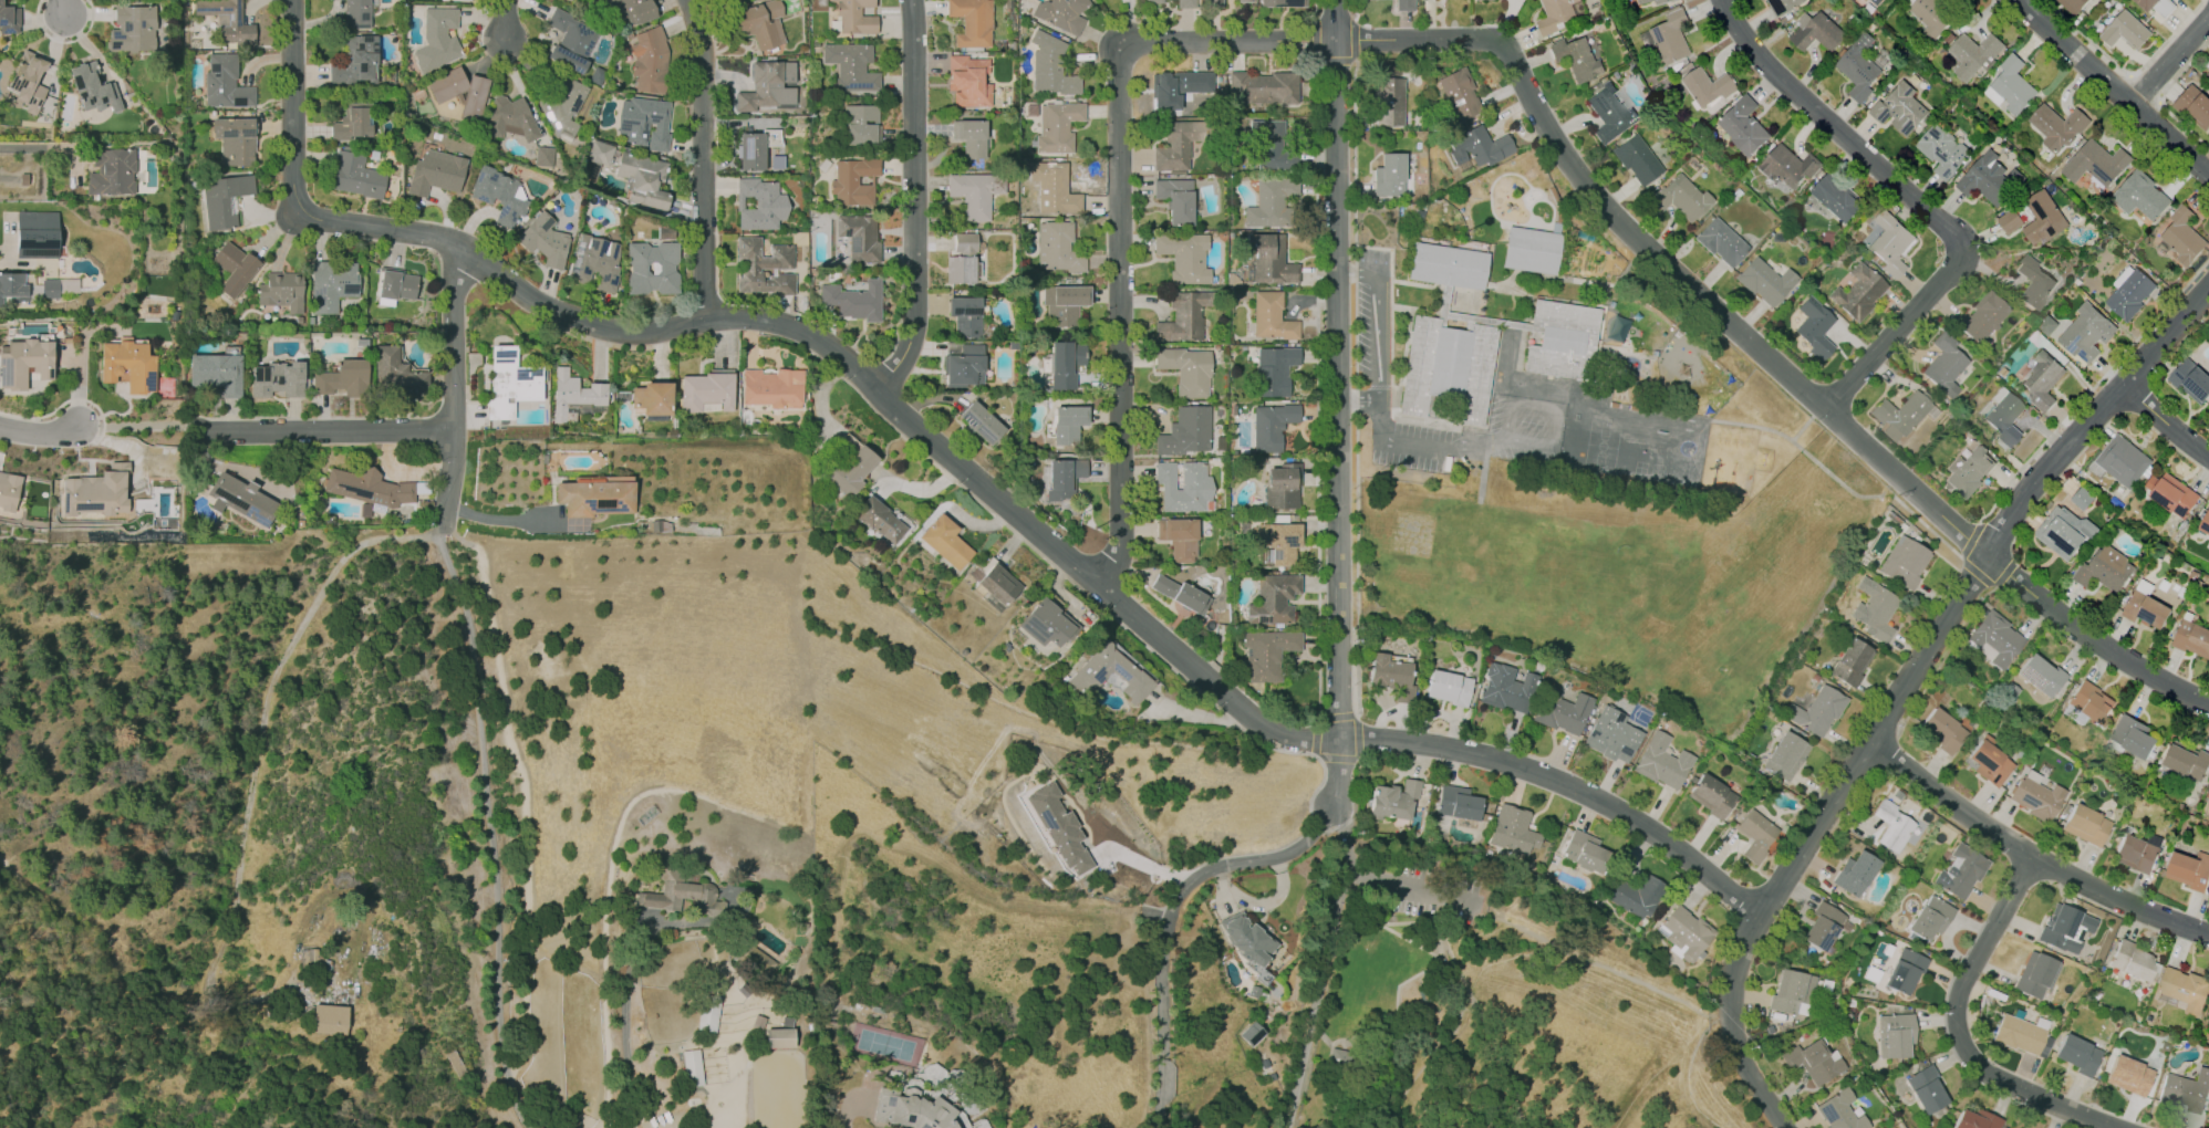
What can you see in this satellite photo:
building: (458, 0)
building: (724, 1)
building: (1154, 1)
building: (1244, 1)
building: (1657, 1)
building: (1282, 2)
building: (1888, 2)
building: (1185, 3)
building: (1212, 3)
building: (1403, 4)
building: (2074, 4)
building: (2147, 4)
building: (1785, 6)
road: (68, 8)
building: (2165, 8)
building: (637, 10)
building: (1061, 13)
building: (356, 14)
building: (1556, 15)
building: (854, 17)
building: (1932, 17)
building: (9, 19)
building: (234, 20)
road: (504, 20)
building: (971, 22)
building: (759, 23)
building: (133, 29)
building: (1817, 31)
building: (2126, 31)
building: (437, 38)
building: (1671, 38)
building: (569, 40)
building: (1975, 55)
building: (1577, 59)
road: (2170, 60)
building: (355, 61)
building: (650, 61)
building: (2208, 65)
building: (851, 66)
building: (1050, 66)
building: (1859, 69)
building: (597, 75)
building: (28, 80)
building: (968, 81)
building: (225, 82)
road: (2114, 85)
building: (1709, 86)
building: (2014, 86)
building: (93, 87)
building: (761, 87)
building: (1181, 87)
building: (1265, 87)
building: (460, 92)
building: (1459, 93)
building: (1389, 100)
building: (560, 102)
building: (2195, 106)
building: (1901, 109)
building: (1609, 113)
building: (509, 118)
building: (353, 122)
building: (644, 123)
building: (860, 124)
building: (1057, 127)
building: (1745, 127)
building: (2058, 127)
road: (1837, 129)
building: (972, 137)
building: (236, 139)
building: (1479, 145)
building: (1175, 146)
building: (1273, 146)
road: (43, 147)
building: (756, 147)
building: (1943, 152)
building: (543, 155)
road: (702, 158)
building: (595, 159)
building: (1636, 159)
building: (775, 161)
building: (2097, 164)
building: (1790, 166)
building: (112, 170)
building: (437, 173)
building: (1389, 175)
building: (356, 176)
road: (9, 178)
building: (22, 178)
building: (1990, 178)
building: (643, 179)
building: (853, 181)
building: (1051, 188)
building: (975, 192)
building: (499, 195)
building: (2140, 195)
building: (1680, 197)
building: (1837, 197)
building: (224, 198)
road: (913, 200)
building: (1176, 200)
building: (1271, 200)
building: (758, 205)
road: (1120, 209)
building: (2045, 218)
building: (2011, 220)
building: (37, 233)
building: (2184, 236)
building: (860, 238)
building: (543, 240)
building: (1721, 241)
building: (1892, 242)
building: (1058, 247)
building: (1531, 250)
building: (1184, 257)
building: (1271, 258)
building: (962, 259)
building: (595, 262)
building: (765, 267)
building: (235, 268)
building: (652, 268)
building: (1765, 281)
building: (2035, 282)
building: (396, 283)
building: (334, 285)
building: (13, 286)
building: (50, 288)
building: (281, 291)
building: (1858, 292)
building: (2130, 294)
building: (855, 300)
building: (1065, 303)
building: (966, 316)
building: (1183, 316)
building: (1272, 316)
building: (1983, 316)
parking lot: (1372, 321)
building: (1814, 325)
building: (1615, 327)
road: (1898, 330)
building: (2084, 332)
road: (1377, 336)
building: (1482, 337)
road: (1762, 347)
building: (24, 362)
building: (1944, 363)
building: (1065, 364)
building: (128, 365)
building: (965, 366)
building: (1186, 369)
building: (1274, 369)
building: (217, 373)
building: (396, 375)
building: (2040, 377)
building: (343, 378)
building: (278, 379)
building: (2191, 379)
building: (510, 383)
building: (774, 388)
building: (707, 390)
road: (450, 393)
building: (574, 393)
building: (653, 398)
road: (1337, 403)
building: (575, 410)
building: (1900, 414)
building: (2003, 418)
building: (982, 421)
building: (1068, 422)
road: (2165, 422)
road: (141, 425)
building: (1272, 426)
road: (324, 431)
building: (1185, 431)
road: (40, 435)
road: (1505, 437)
park: (1601, 446)
road: (954, 459)
building: (2124, 461)
building: (846, 463)
building: (1969, 470)
building: (1065, 477)
building: (1283, 485)
building: (1183, 487)
building: (370, 488)
building: (9, 491)
building: (97, 491)
building: (595, 494)
building: (2172, 494)
building: (242, 498)
building: (2083, 499)
road: (499, 519)
building: (880, 520)
building: (2205, 523)
building: (2066, 532)
building: (1179, 537)
building: (945, 541)
building: (1280, 541)
building: (2208, 547)
building: (1904, 561)
building: (2106, 570)
building: (998, 583)
building: (1181, 594)
building: (1274, 599)
building: (2147, 609)
building: (1878, 610)
building: (1048, 624)
building: (1998, 638)
building: (2192, 638)
building: (1267, 652)
building: (1852, 662)
building: (1392, 675)
building: (2041, 675)
building: (1089, 676)
building: (1449, 687)
building: (1505, 687)
road: (1905, 689)
building: (2091, 701)
building: (1818, 710)
building: (1560, 711)
building: (1942, 730)
building: (1611, 734)
building: (2134, 735)
building: (1784, 755)
building: (1989, 761)
building: (2189, 761)
building: (1662, 762)
building: (1712, 795)
building: (2037, 797)
building: (1393, 800)
building: (1458, 802)
building: (2085, 824)
building: (1892, 825)
building: (1059, 826)
building: (1513, 828)
road: (492, 834)
building: (1756, 835)
building: (1585, 852)
building: (2137, 852)
road: (2031, 856)
road: (1148, 860)
road: (1236, 863)
building: (2190, 869)
building: (1855, 871)
building: (1961, 871)
road: (1380, 879)
parking lot: (1433, 892)
building: (677, 895)
road: (1222, 895)
building: (1637, 896)
road: (1258, 900)
building: (1930, 918)
building: (1823, 926)
building: (2058, 927)
building: (1687, 932)
building: (1248, 938)
road: (1521, 947)
building: (2132, 960)
building: (758, 962)
road: (1430, 965)
building: (1905, 971)
building: (2034, 974)
building: (2186, 989)
building: (1255, 991)
building: (1790, 991)
road: (1315, 1000)
park: (1487, 1009)
building: (707, 1012)
building: (329, 1017)
road: (624, 1020)
road: (1957, 1028)
building: (1251, 1032)
road: (1162, 1034)
building: (1895, 1034)
building: (2019, 1034)
building: (778, 1035)
park: (885, 1042)
building: (2077, 1054)
road: (1397, 1058)
building: (455, 1059)
building: (1812, 1061)
building: (691, 1066)
road: (1422, 1069)
building: (2129, 1075)
building: (1926, 1088)
building: (2185, 1092)
road: (846, 1106)
building: (912, 1110)
building: (1839, 1110)
building: (1977, 1119)

